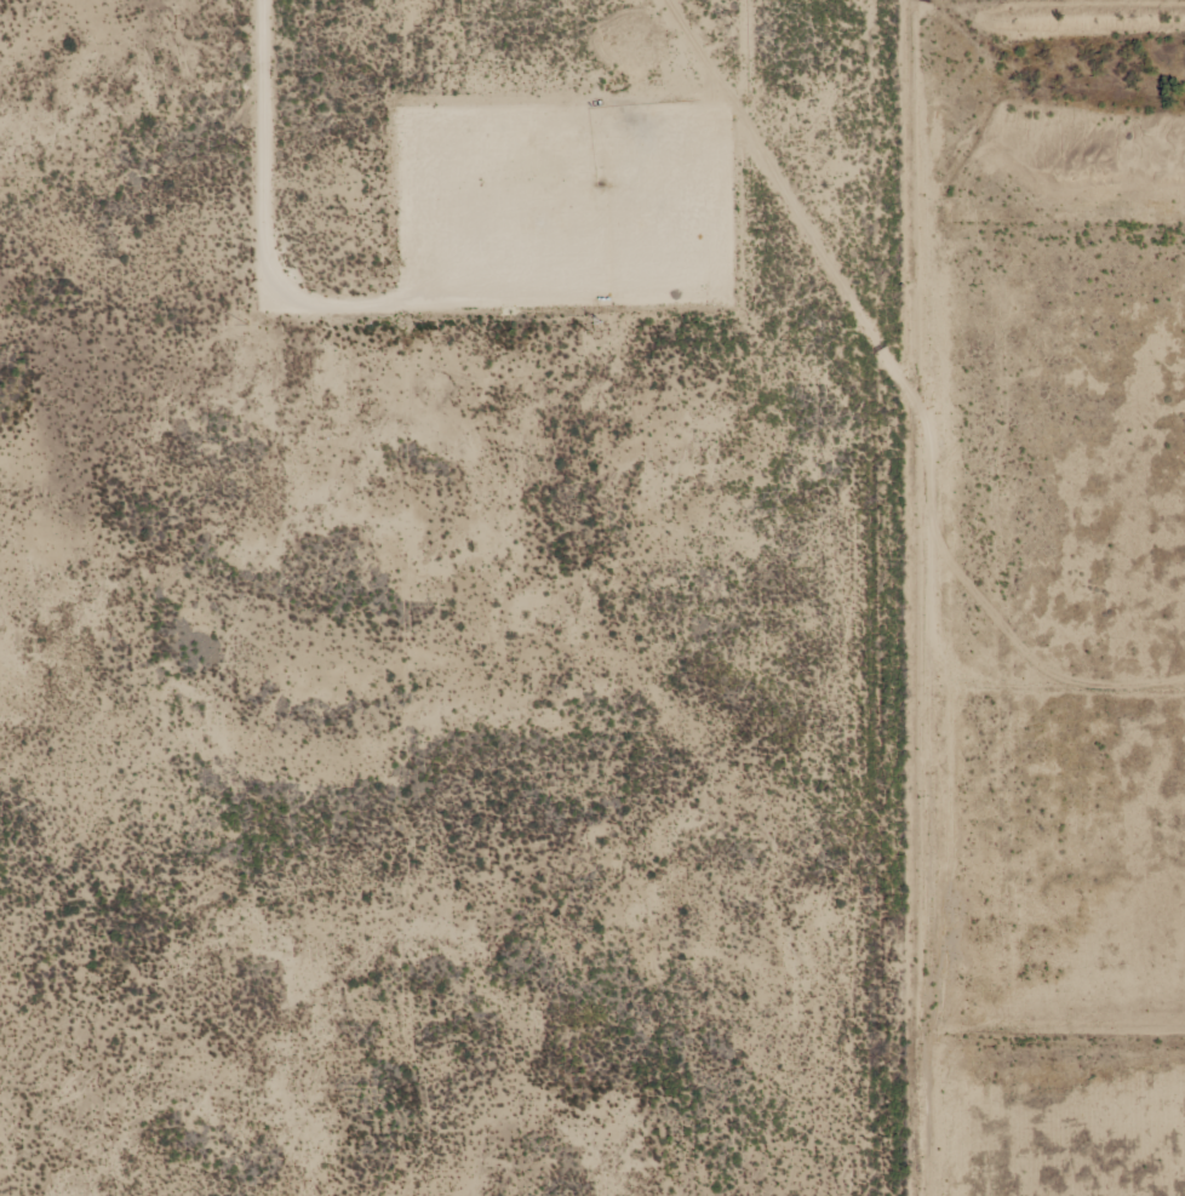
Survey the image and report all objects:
road: (997, 1032)

